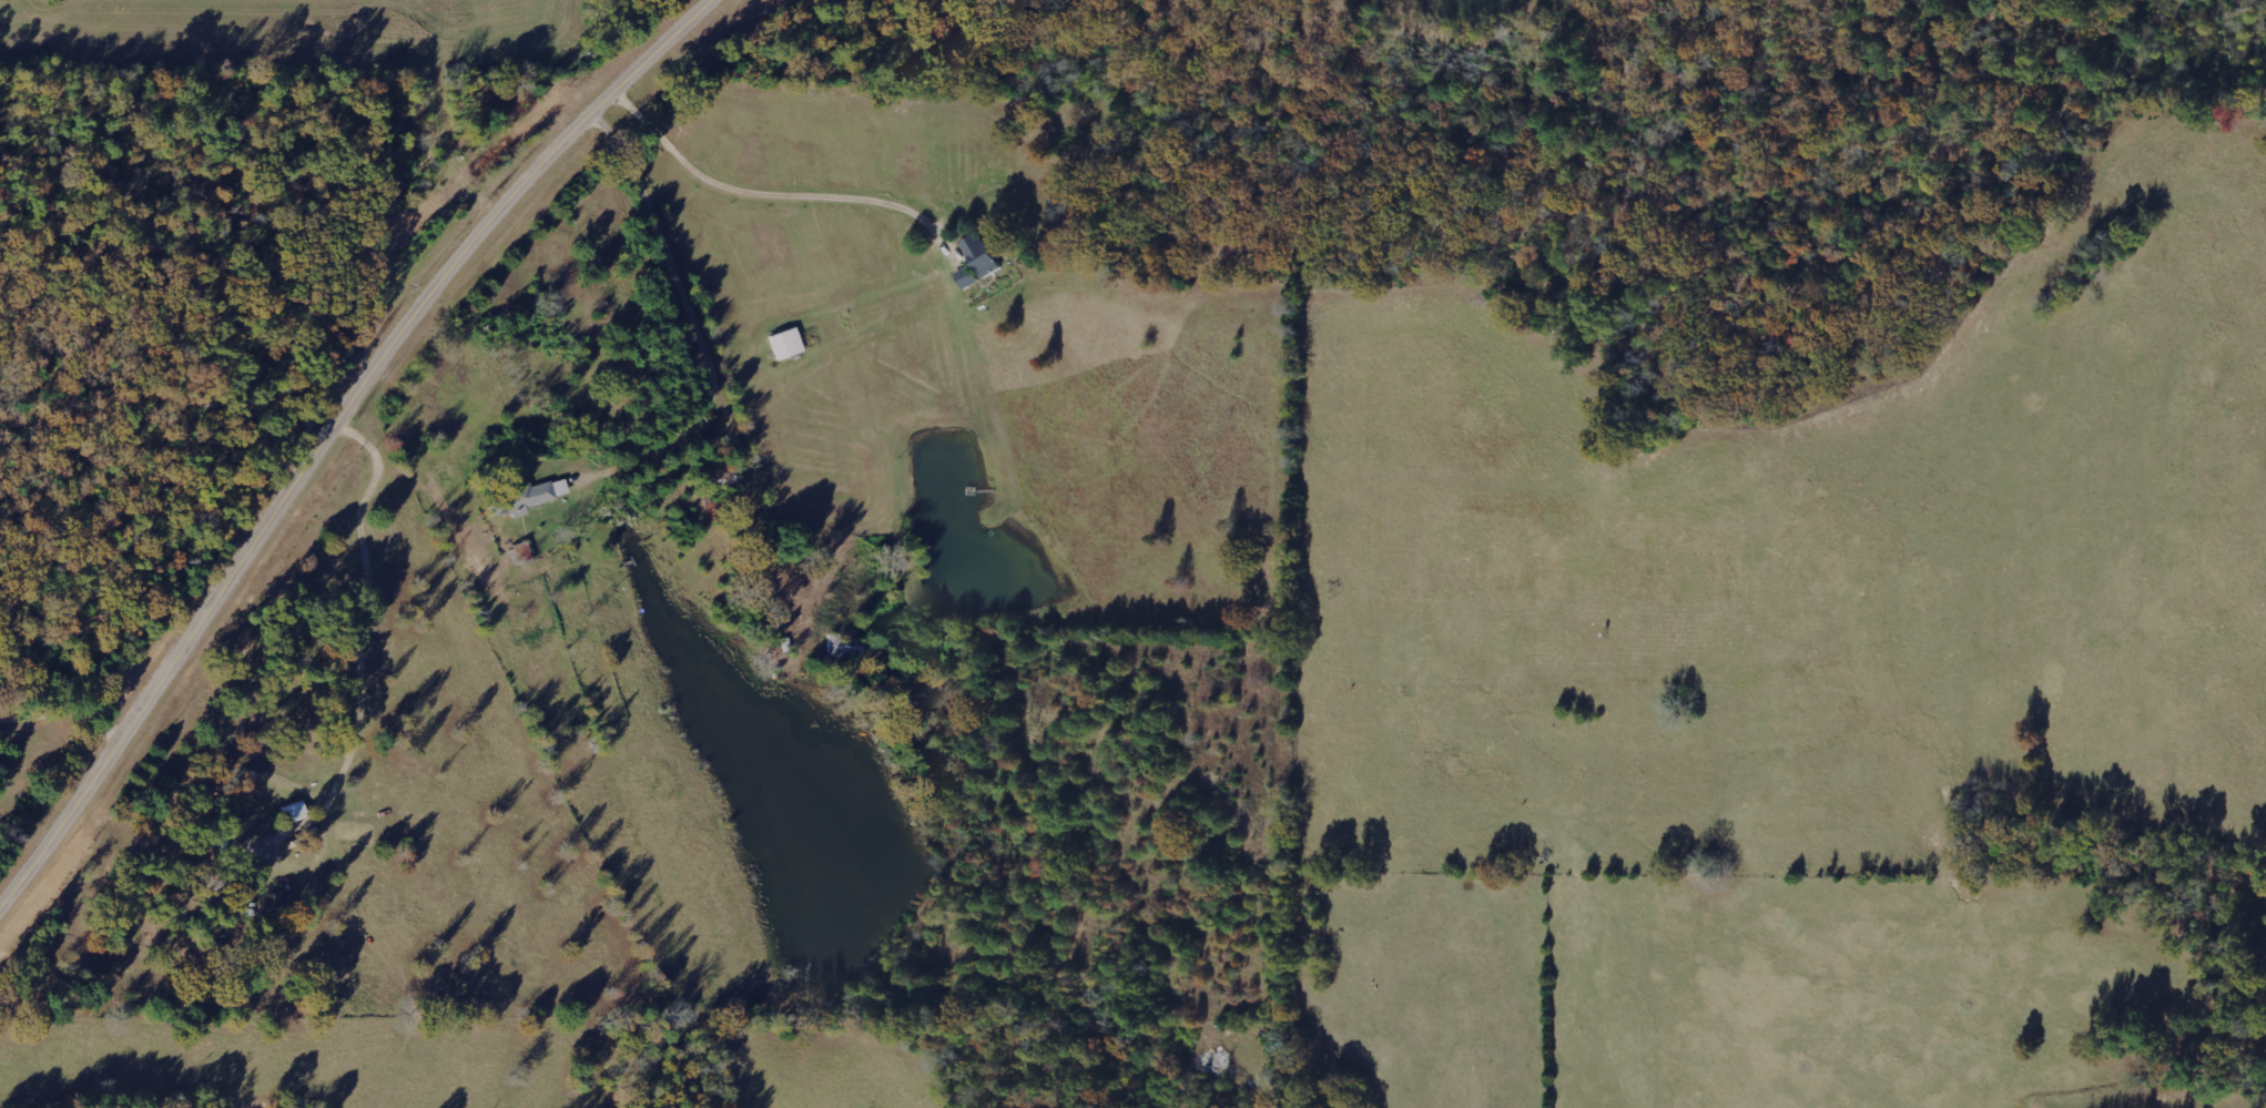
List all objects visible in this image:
road: (774, 185)
building: (979, 261)
building: (785, 343)
road: (209, 394)
road: (710, 410)
road: (328, 428)
building: (526, 497)
road: (61, 719)

